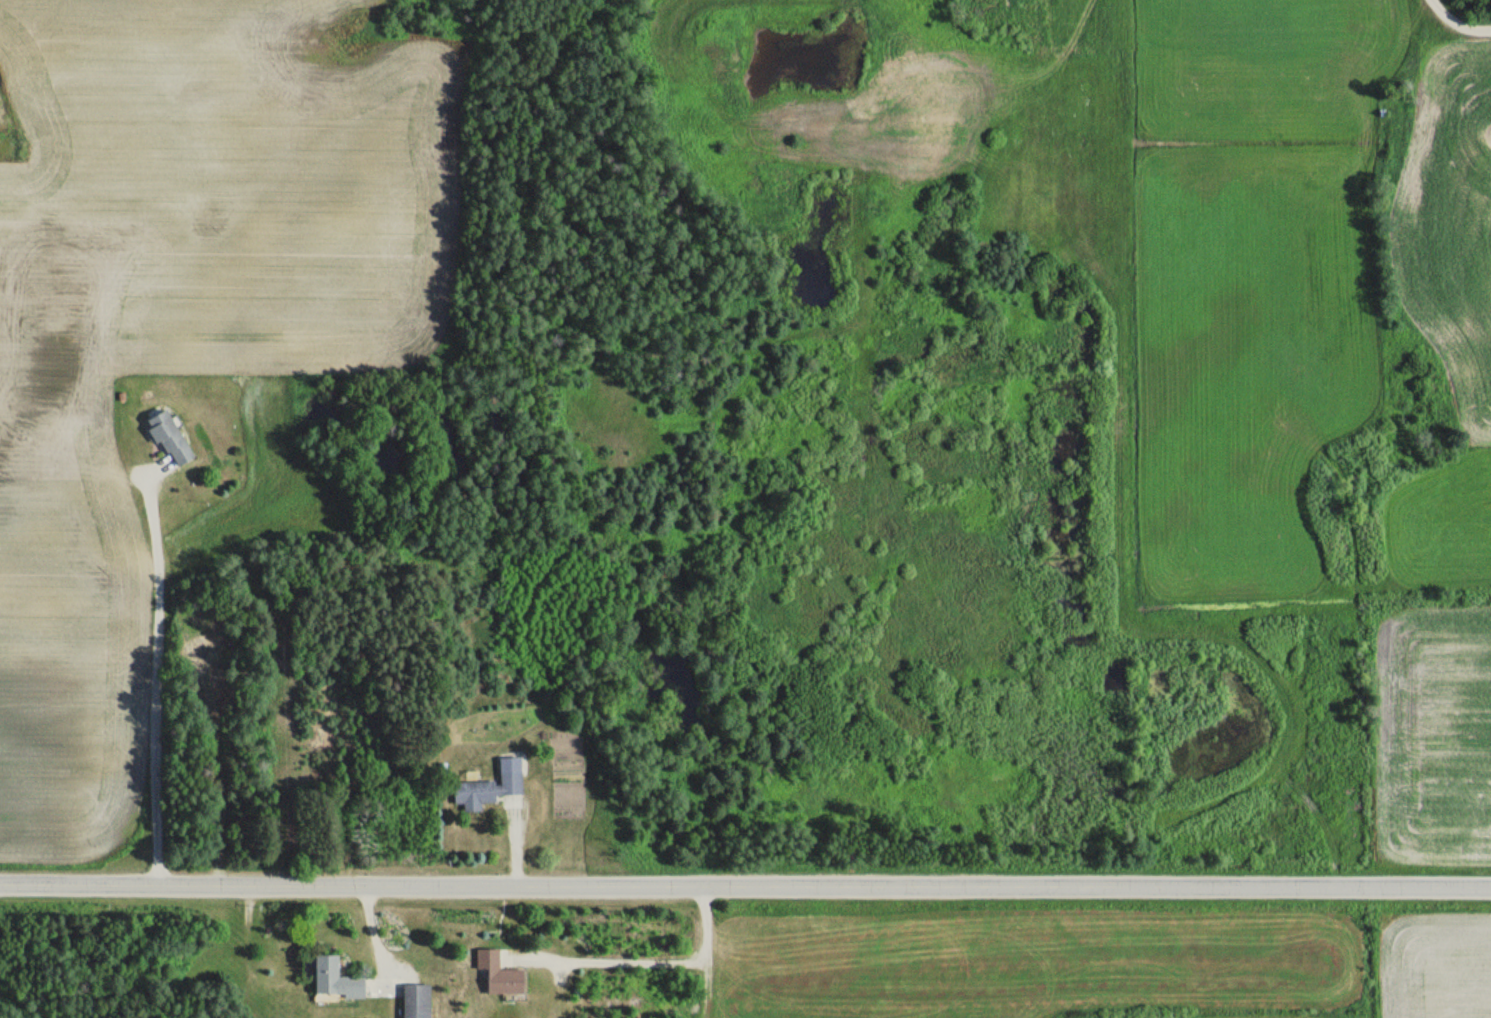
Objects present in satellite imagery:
building: (168, 437)
building: (485, 790)
road: (745, 877)
building: (495, 974)
building: (333, 978)
building: (415, 1001)

